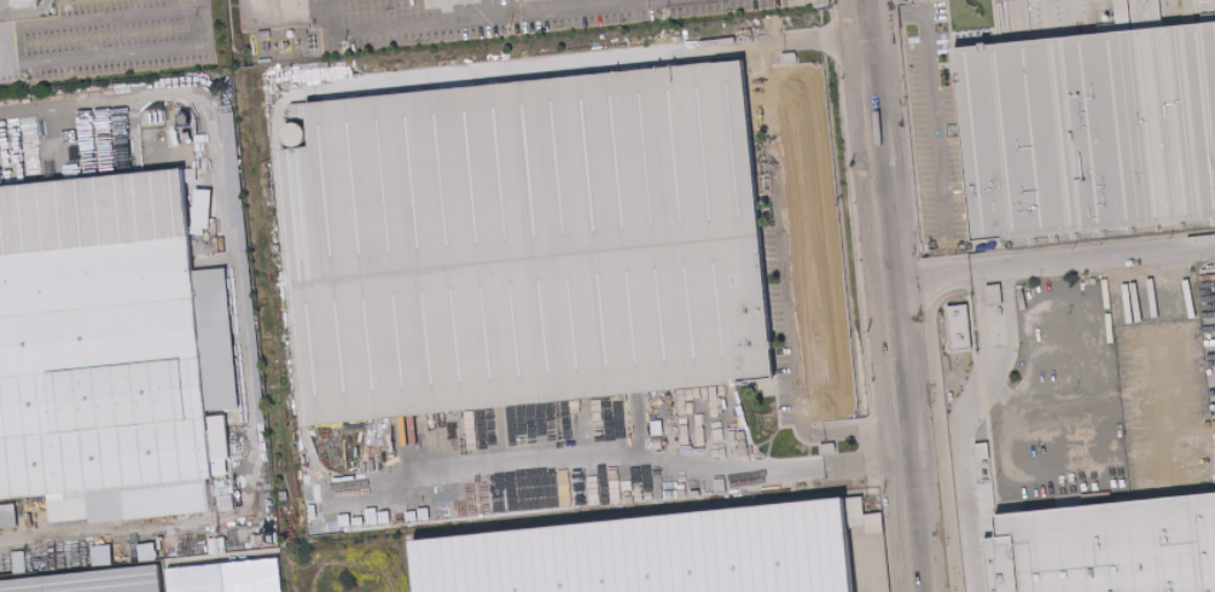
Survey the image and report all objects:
building: (24, 1)
road: (196, 1)
road: (274, 14)
road: (494, 14)
parking lot: (1047, 17)
parking lot: (110, 40)
power substation: (284, 43)
building: (1087, 128)
parking lot: (936, 140)
road: (903, 295)
road: (871, 296)

